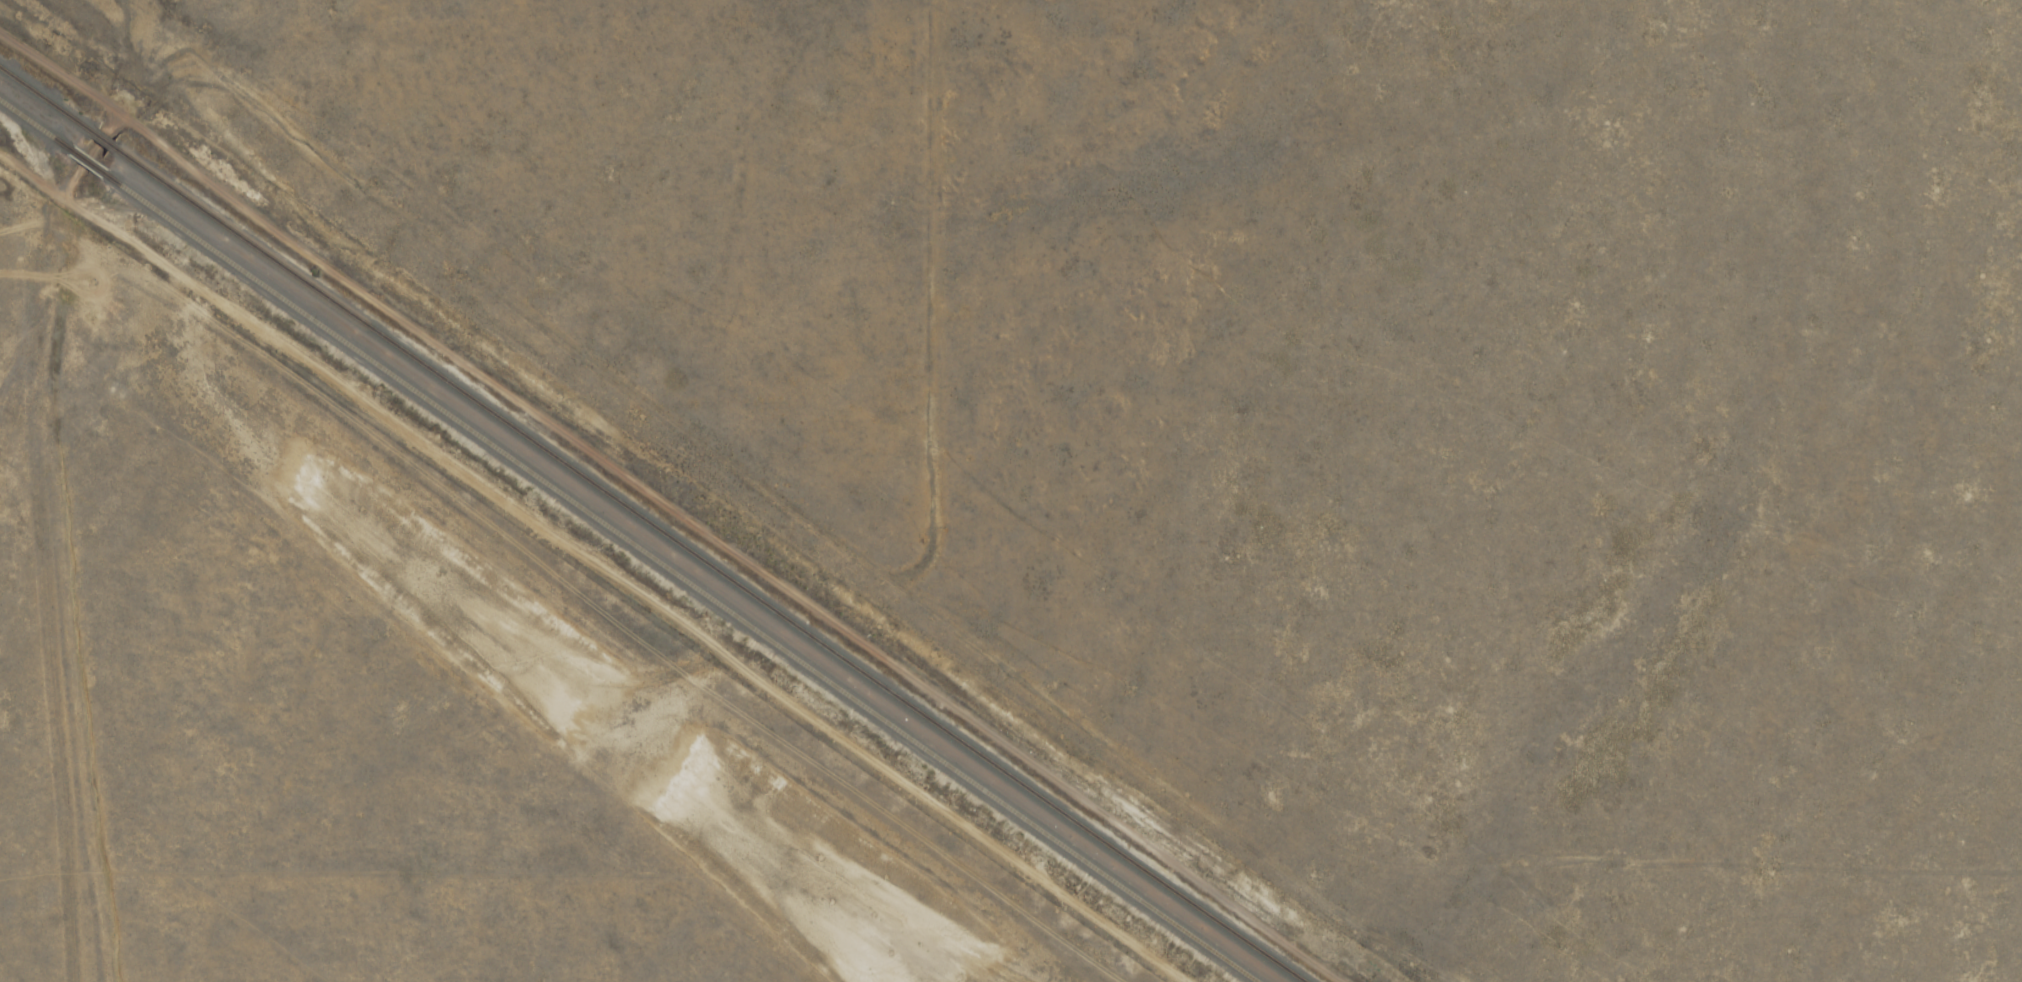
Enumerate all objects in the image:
railway: (45, 100)
railway: (35, 126)
railway: (103, 141)
railway: (88, 163)
road: (657, 433)
railway: (709, 566)
road: (569, 575)
railway: (680, 578)

